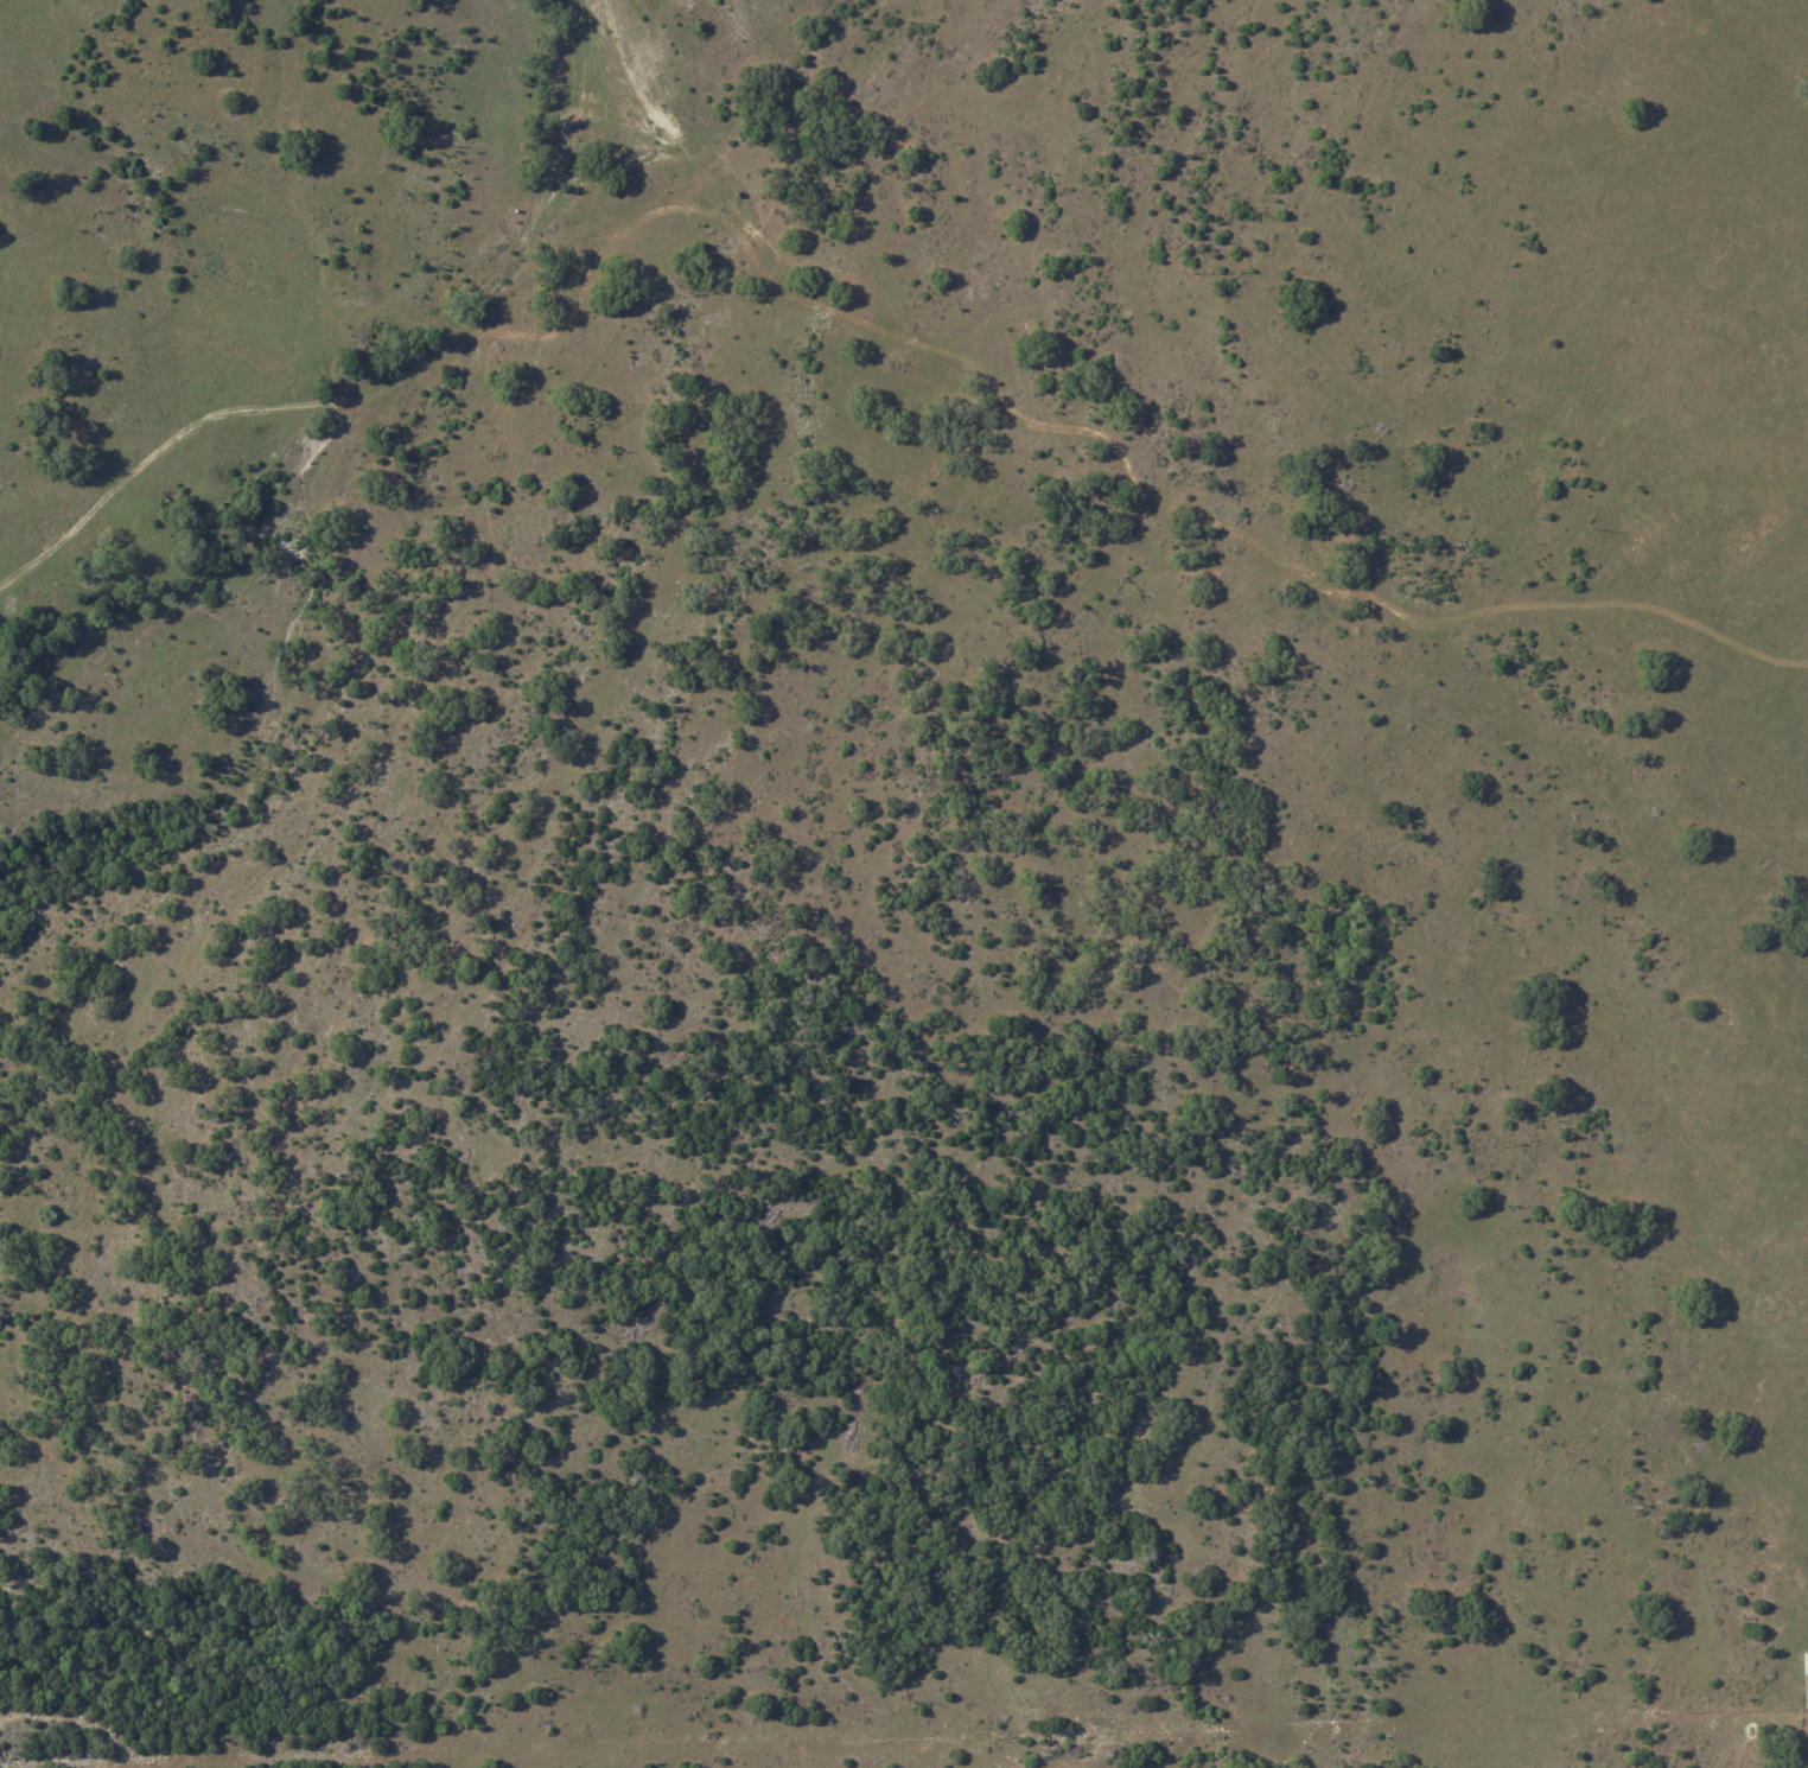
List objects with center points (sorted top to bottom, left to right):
building: (1807, 1664)

